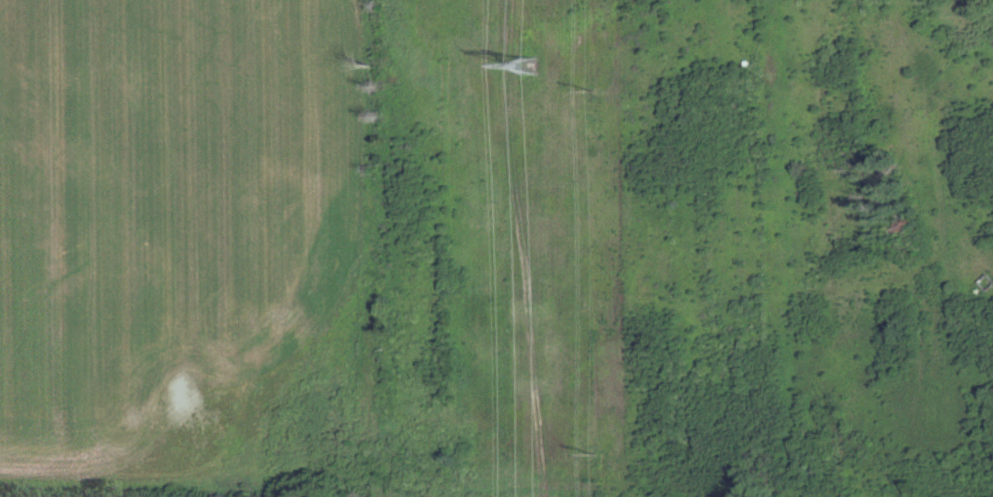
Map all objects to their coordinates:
power tower: (528, 63)

